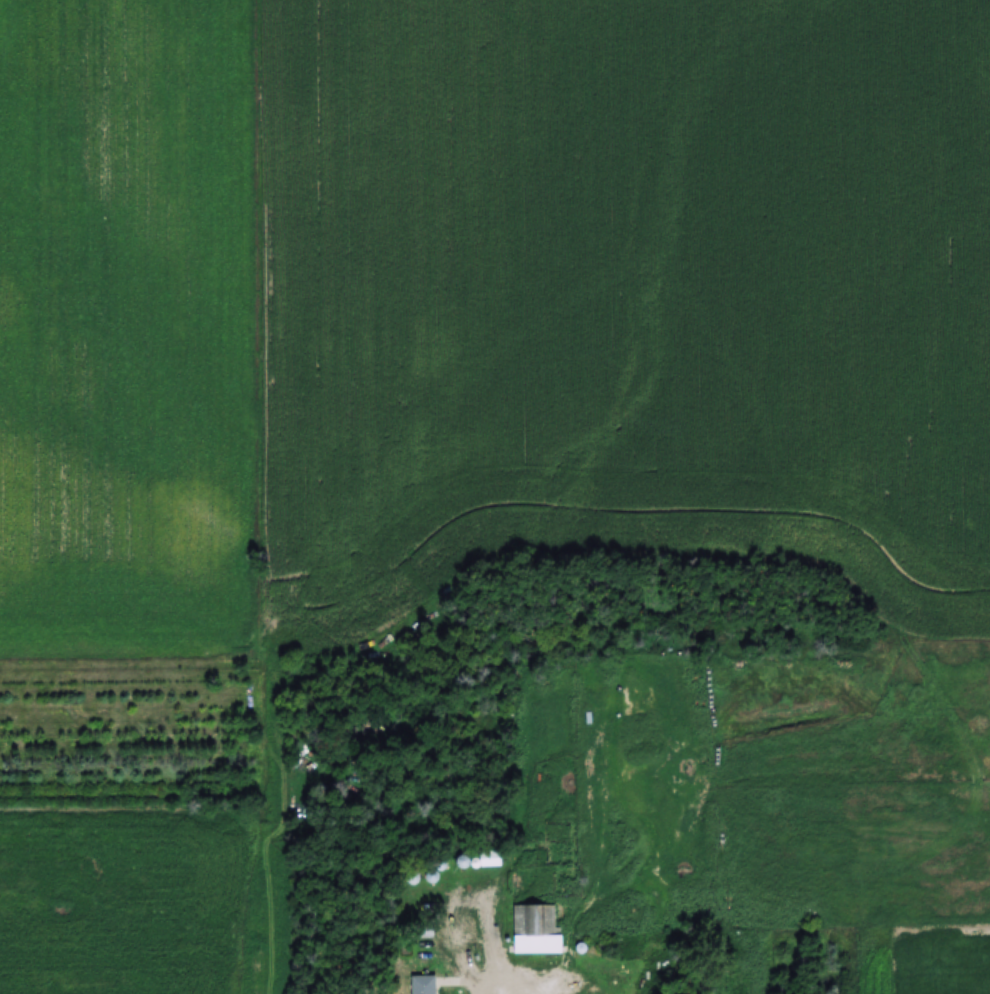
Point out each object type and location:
building: (535, 931)
building: (422, 985)

